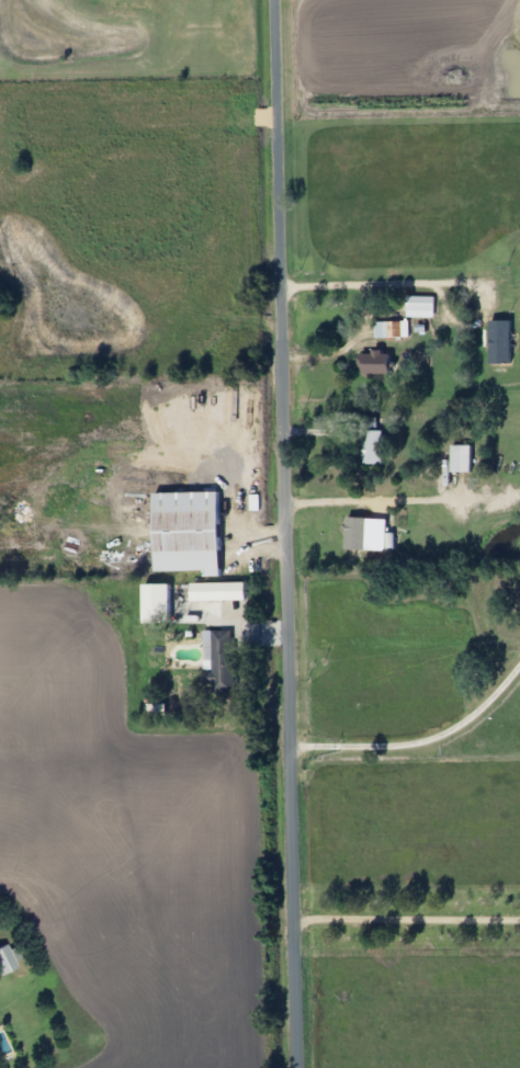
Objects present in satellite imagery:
road: (366, 326)
building: (388, 330)
building: (500, 340)
building: (375, 364)
road: (317, 432)
building: (371, 442)
building: (460, 459)
building: (188, 532)
road: (289, 533)
road: (257, 534)
building: (193, 591)
road: (256, 640)
building: (219, 660)
road: (420, 745)
road: (409, 921)
building: (4, 961)

